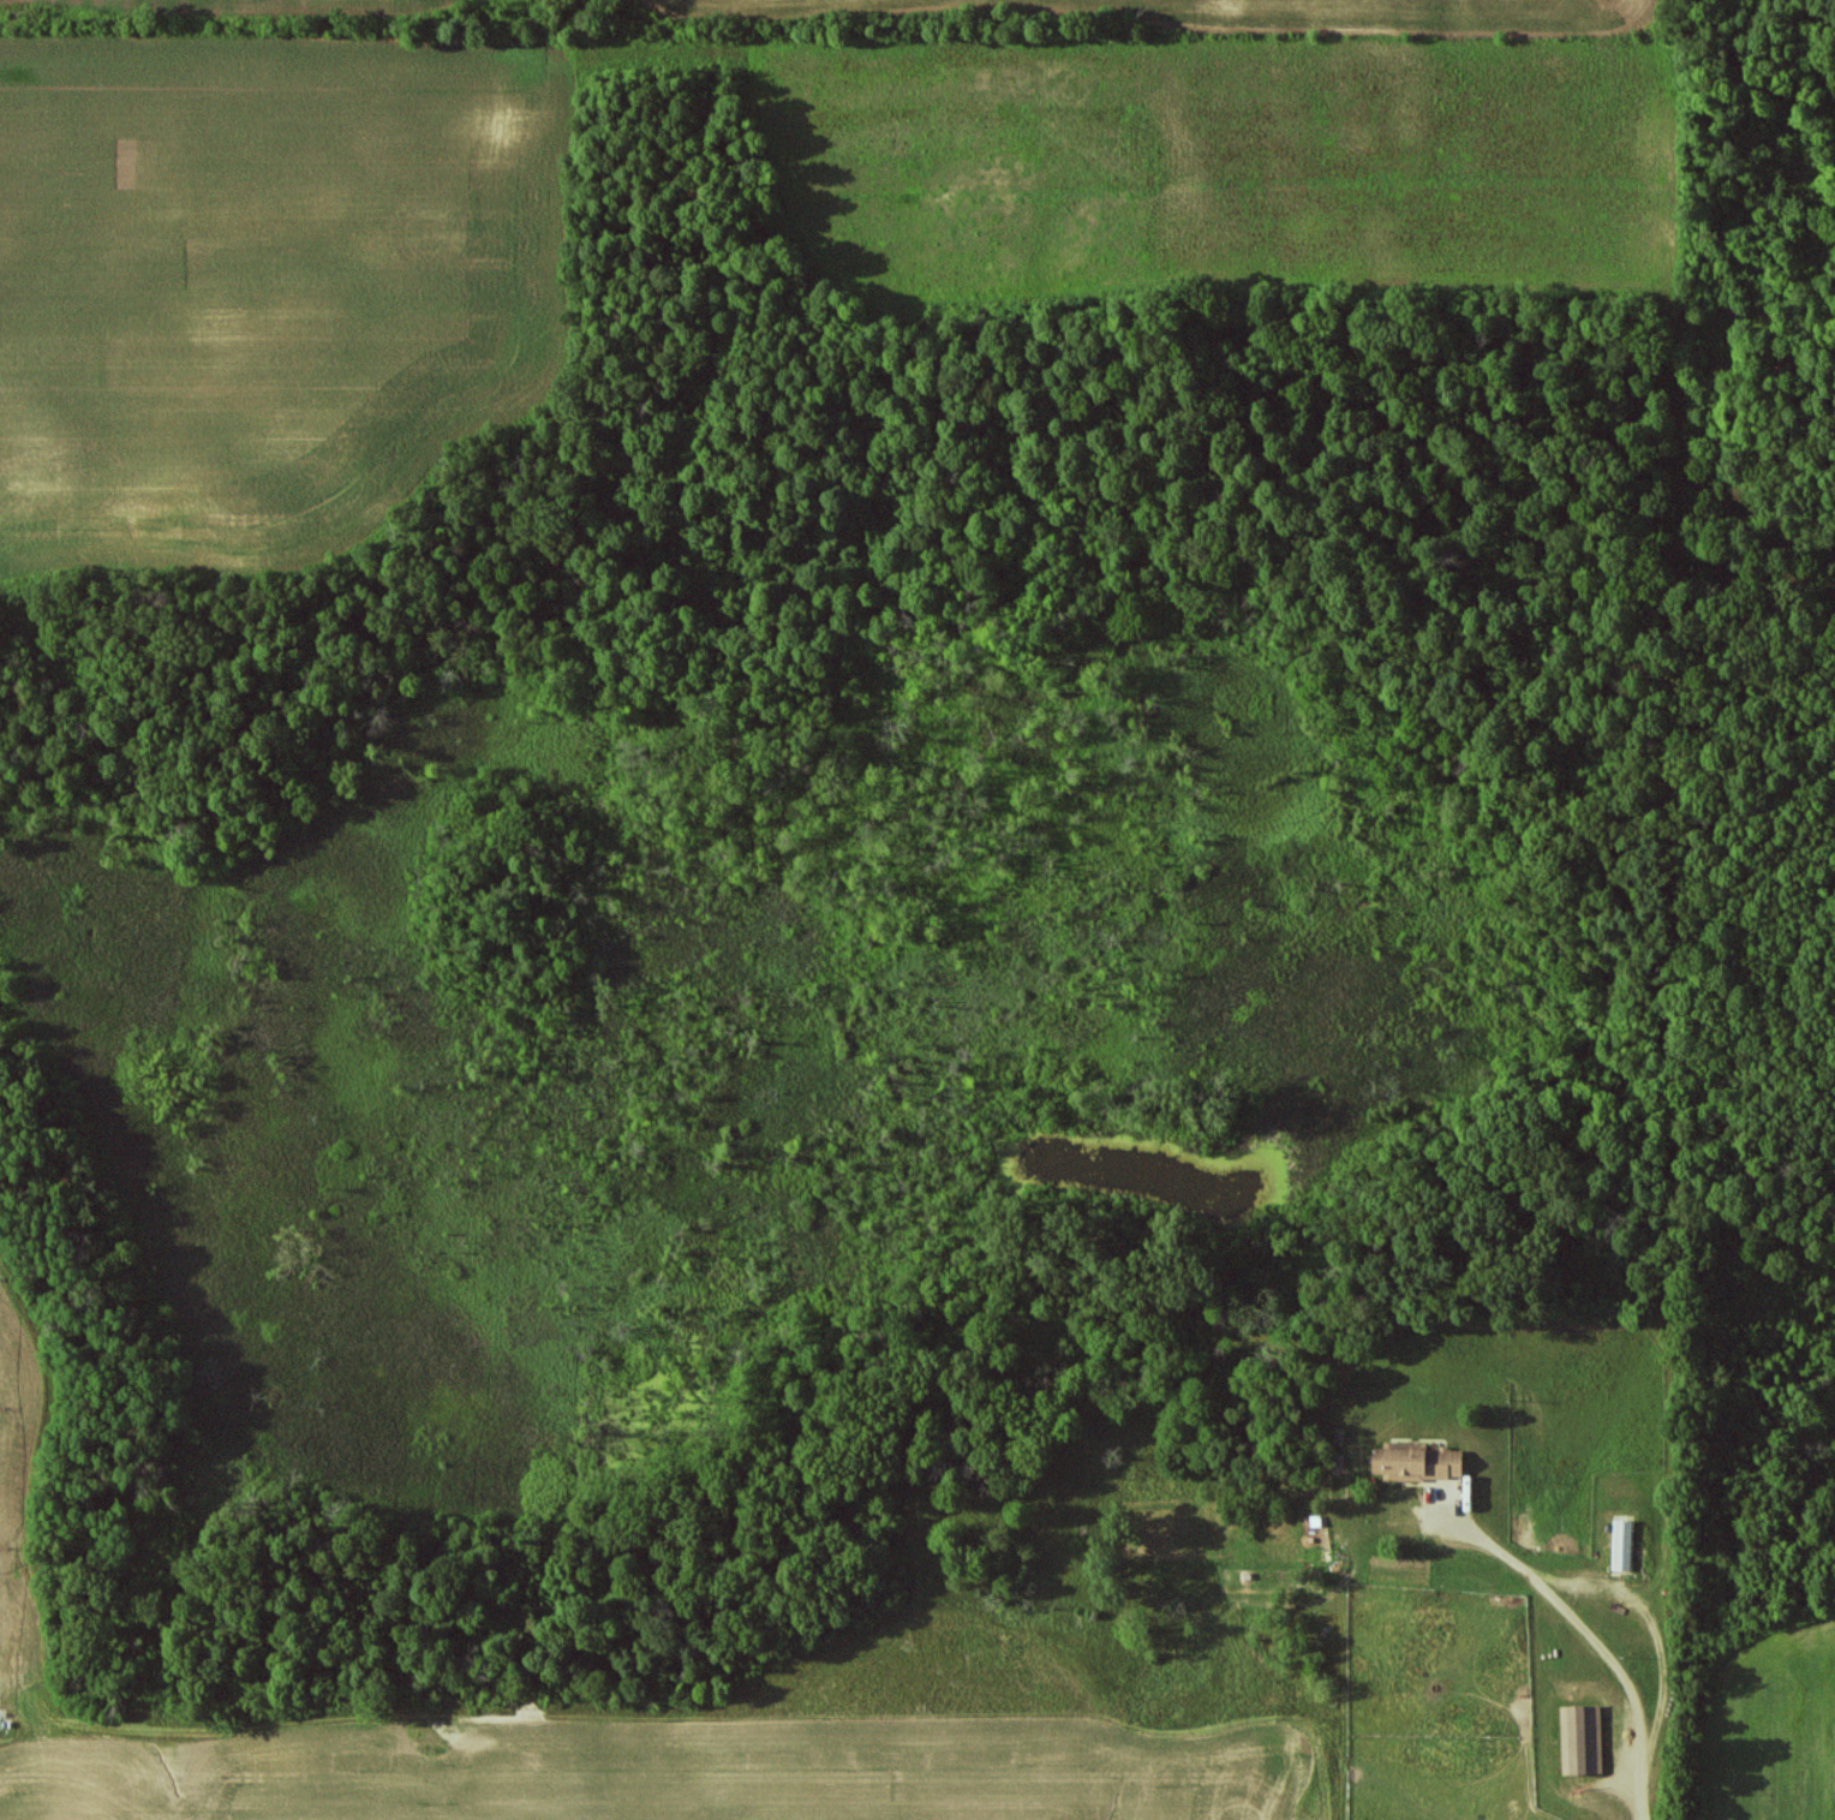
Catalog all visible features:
building: (1421, 1462)
building: (1625, 1545)
road: (1592, 1645)
building: (1584, 1741)

